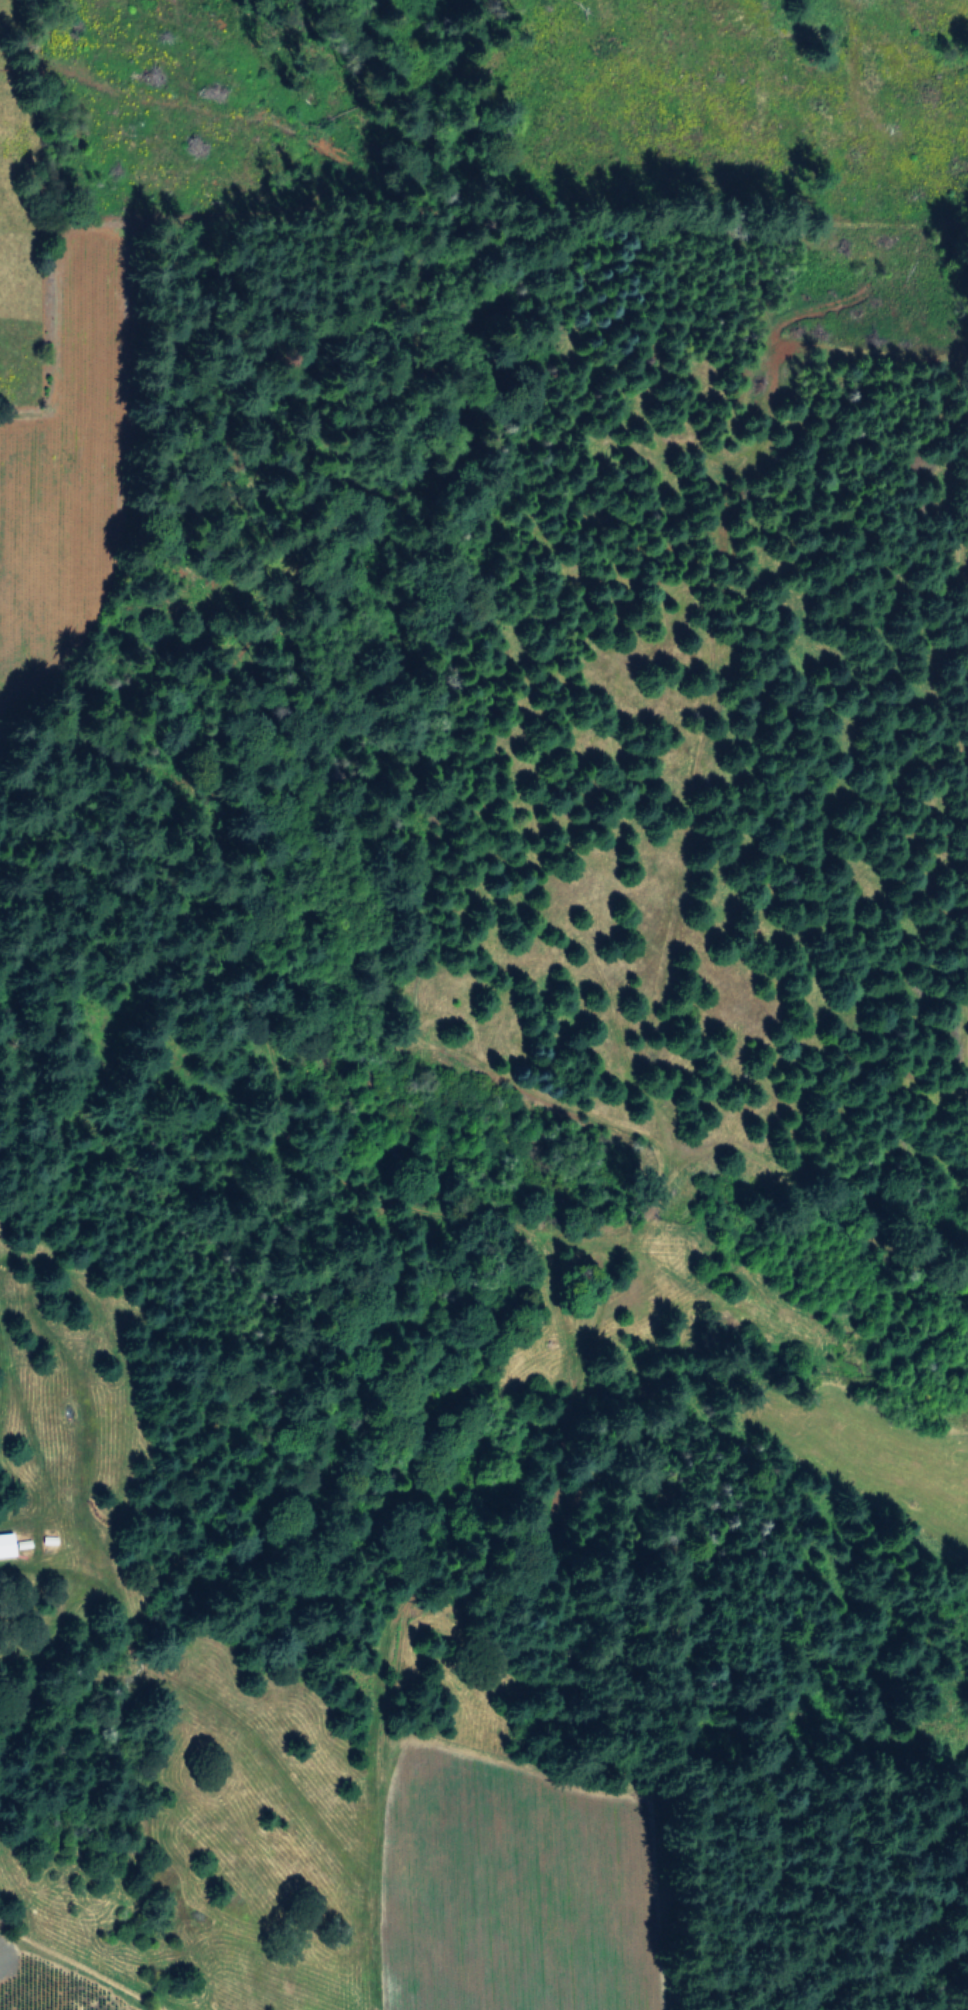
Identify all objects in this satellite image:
crop: (958, 552)
building: (5, 1544)

